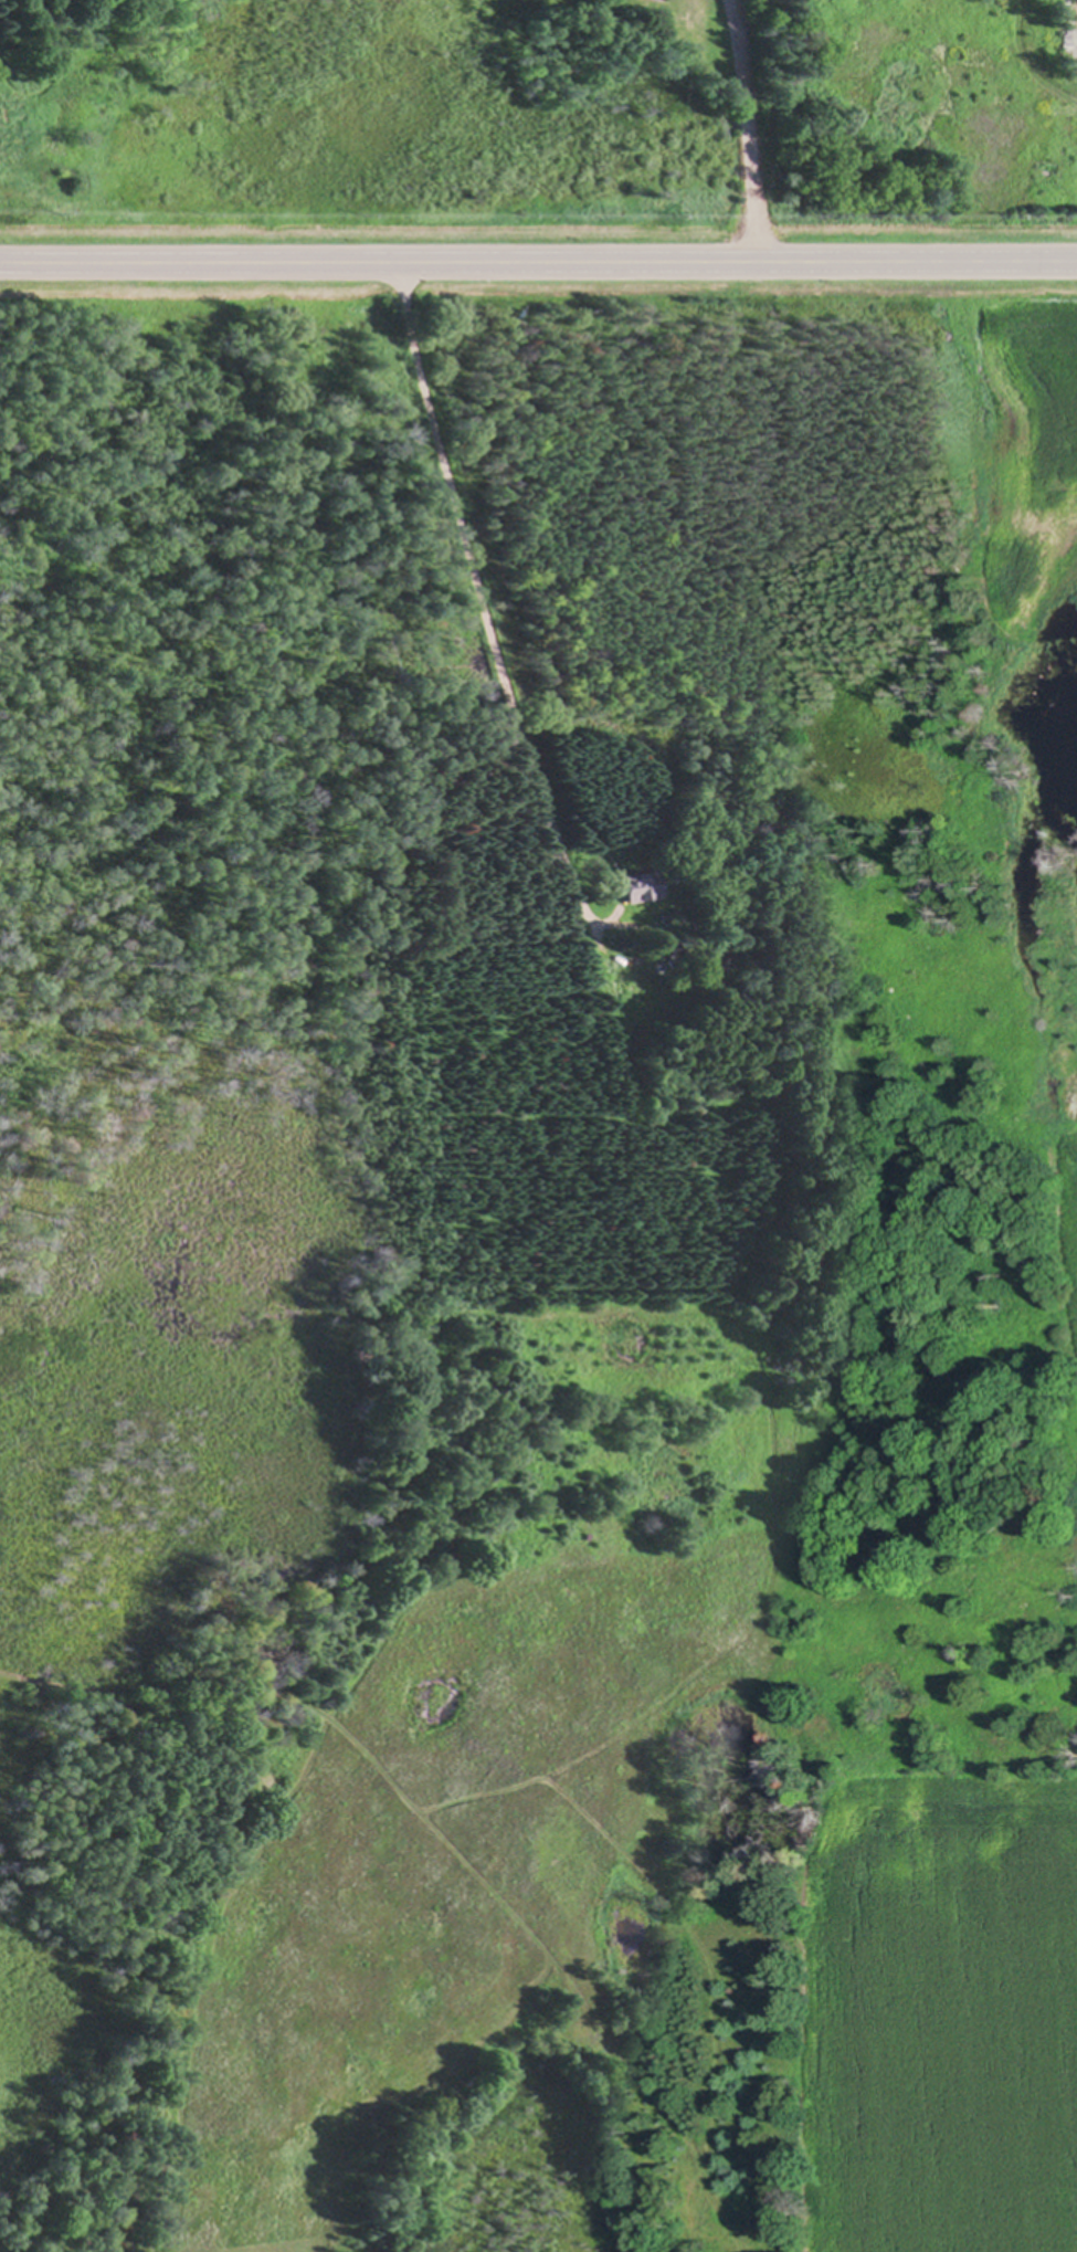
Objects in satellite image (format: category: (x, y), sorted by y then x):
building: (650, 0)
road: (747, 130)
road: (538, 261)
road: (503, 677)
building: (636, 887)

